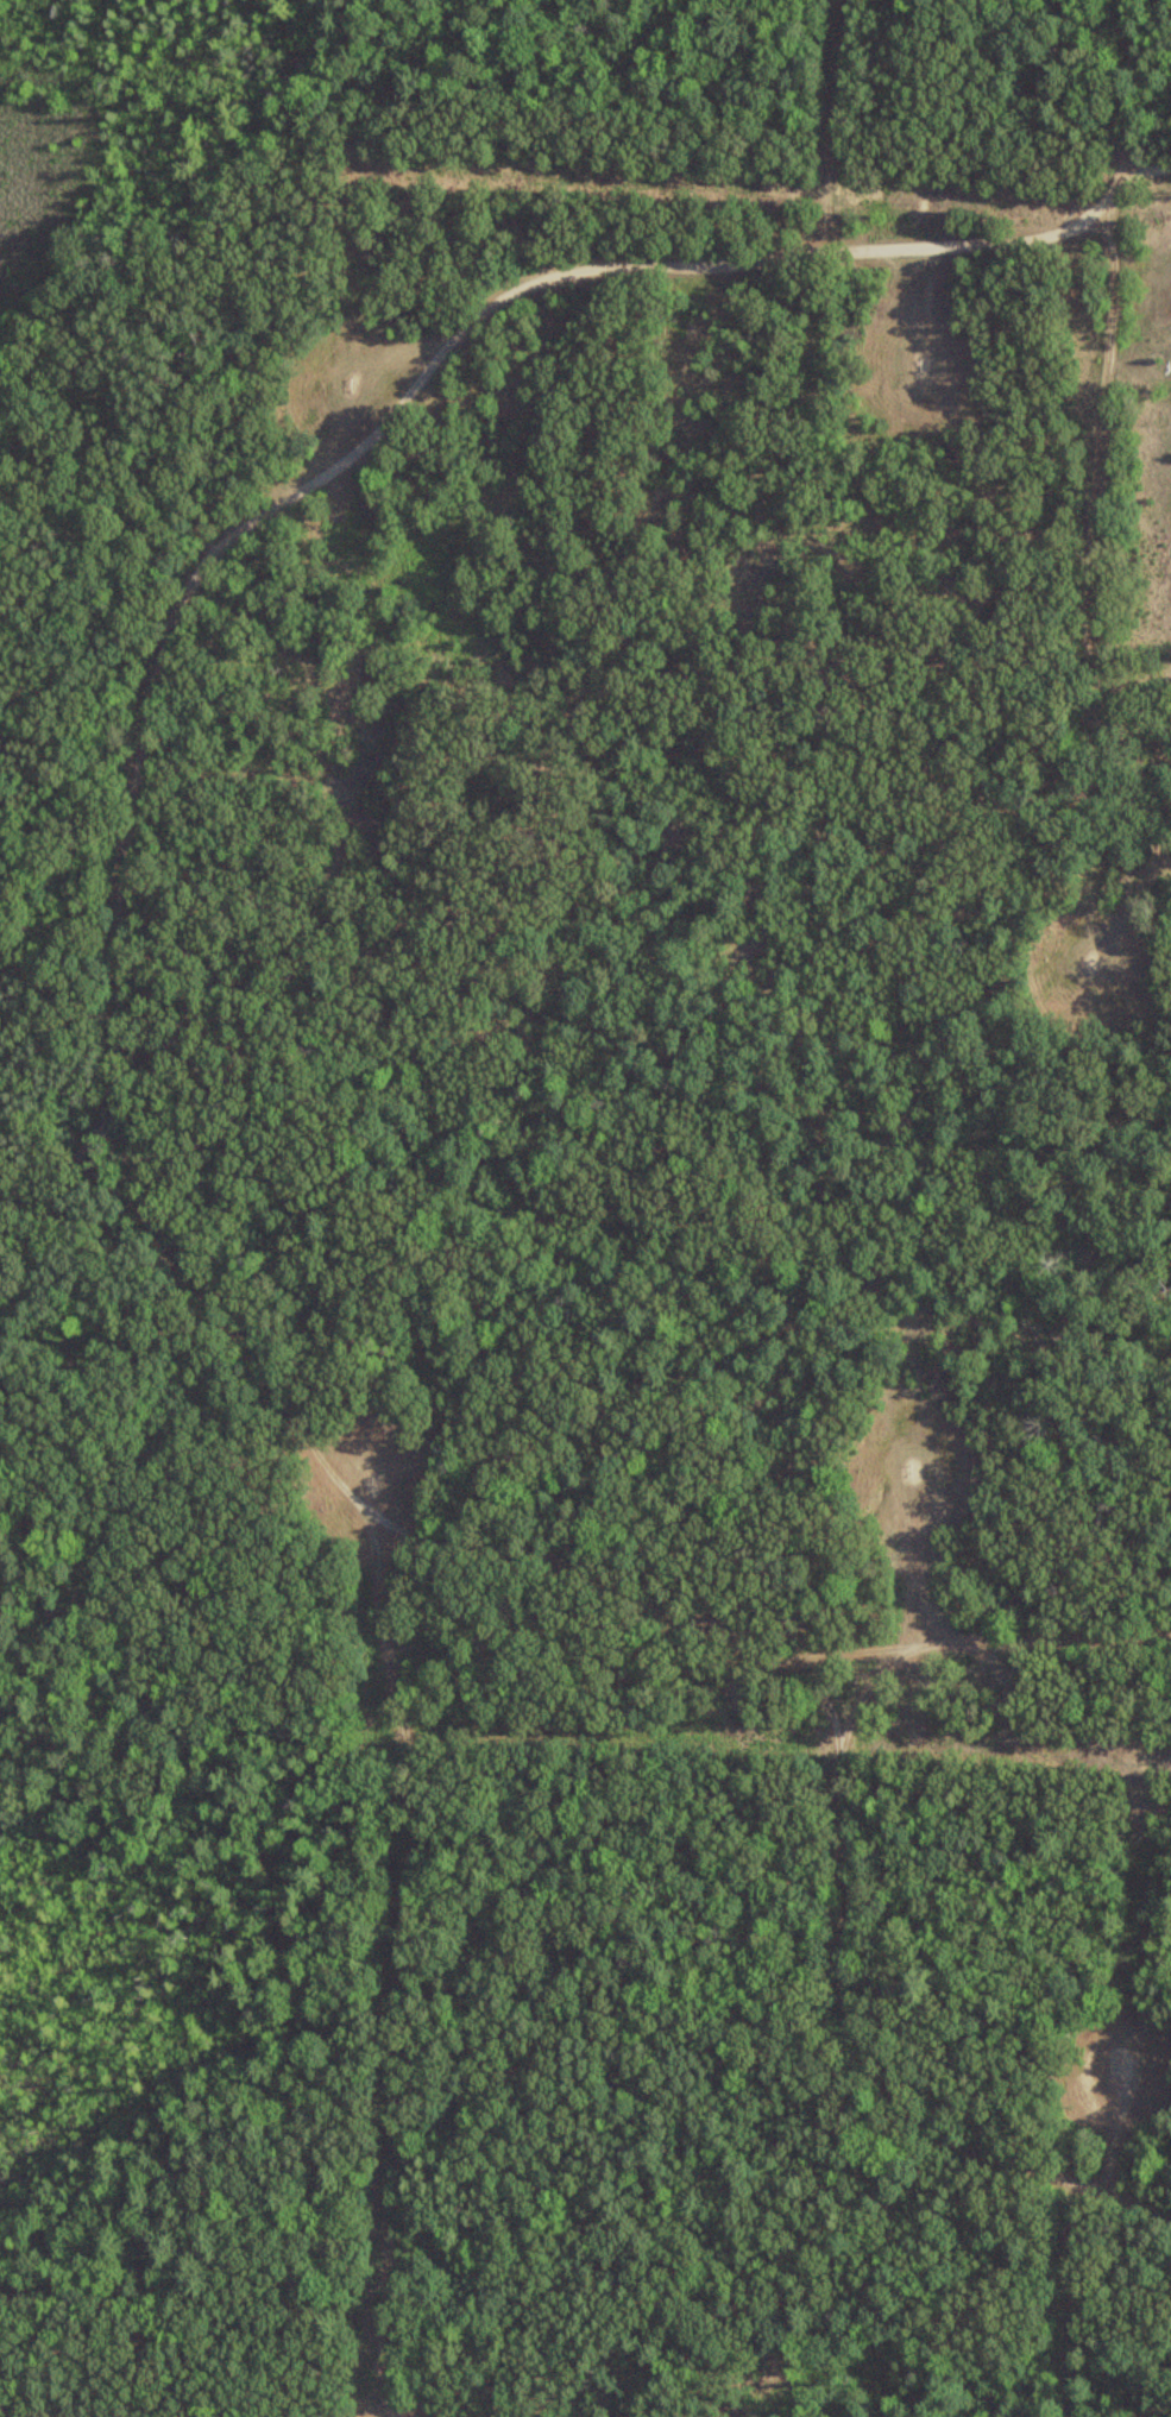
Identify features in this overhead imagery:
road: (829, 125)
road: (1152, 163)
building: (1160, 335)
building: (1146, 367)
road: (1094, 439)
road: (62, 1157)
road: (136, 1184)
road: (994, 1657)
road: (873, 1660)
road: (218, 2299)

